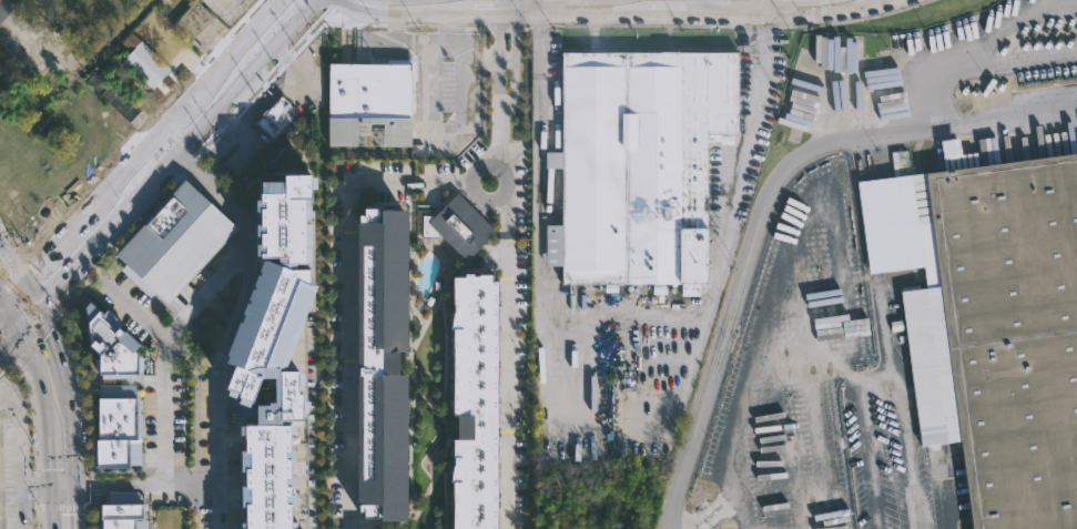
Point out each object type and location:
building: (237, 1)
building: (242, 1)
road: (3, 4)
road: (509, 7)
road: (825, 12)
road: (632, 14)
road: (413, 16)
building: (195, 20)
road: (769, 28)
road: (292, 33)
road: (246, 40)
building: (146, 61)
road: (973, 62)
road: (448, 64)
road: (935, 85)
building: (114, 91)
road: (501, 96)
road: (266, 98)
building: (379, 109)
road: (180, 110)
building: (277, 118)
road: (163, 151)
building: (637, 163)
road: (125, 170)
road: (150, 187)
road: (765, 203)
road: (506, 206)
building: (463, 226)
road: (62, 240)
building: (172, 240)
road: (12, 260)
traffic signals: (24, 281)
road: (206, 282)
road: (346, 283)
road: (16, 292)
road: (33, 295)
road: (3, 296)
traffic signals: (7, 303)
road: (3, 306)
traffic signals: (43, 311)
road: (598, 317)
road: (32, 319)
road: (227, 326)
building: (990, 326)
traffic signals: (22, 329)
road: (11, 339)
road: (59, 344)
building: (111, 345)
road: (759, 353)
building: (278, 360)
building: (379, 363)
road: (506, 383)
building: (473, 400)
road: (49, 410)
road: (164, 411)
building: (116, 426)
road: (77, 431)
road: (18, 455)
road: (191, 484)
road: (67, 485)
road: (723, 496)
road: (81, 507)
building: (121, 513)

